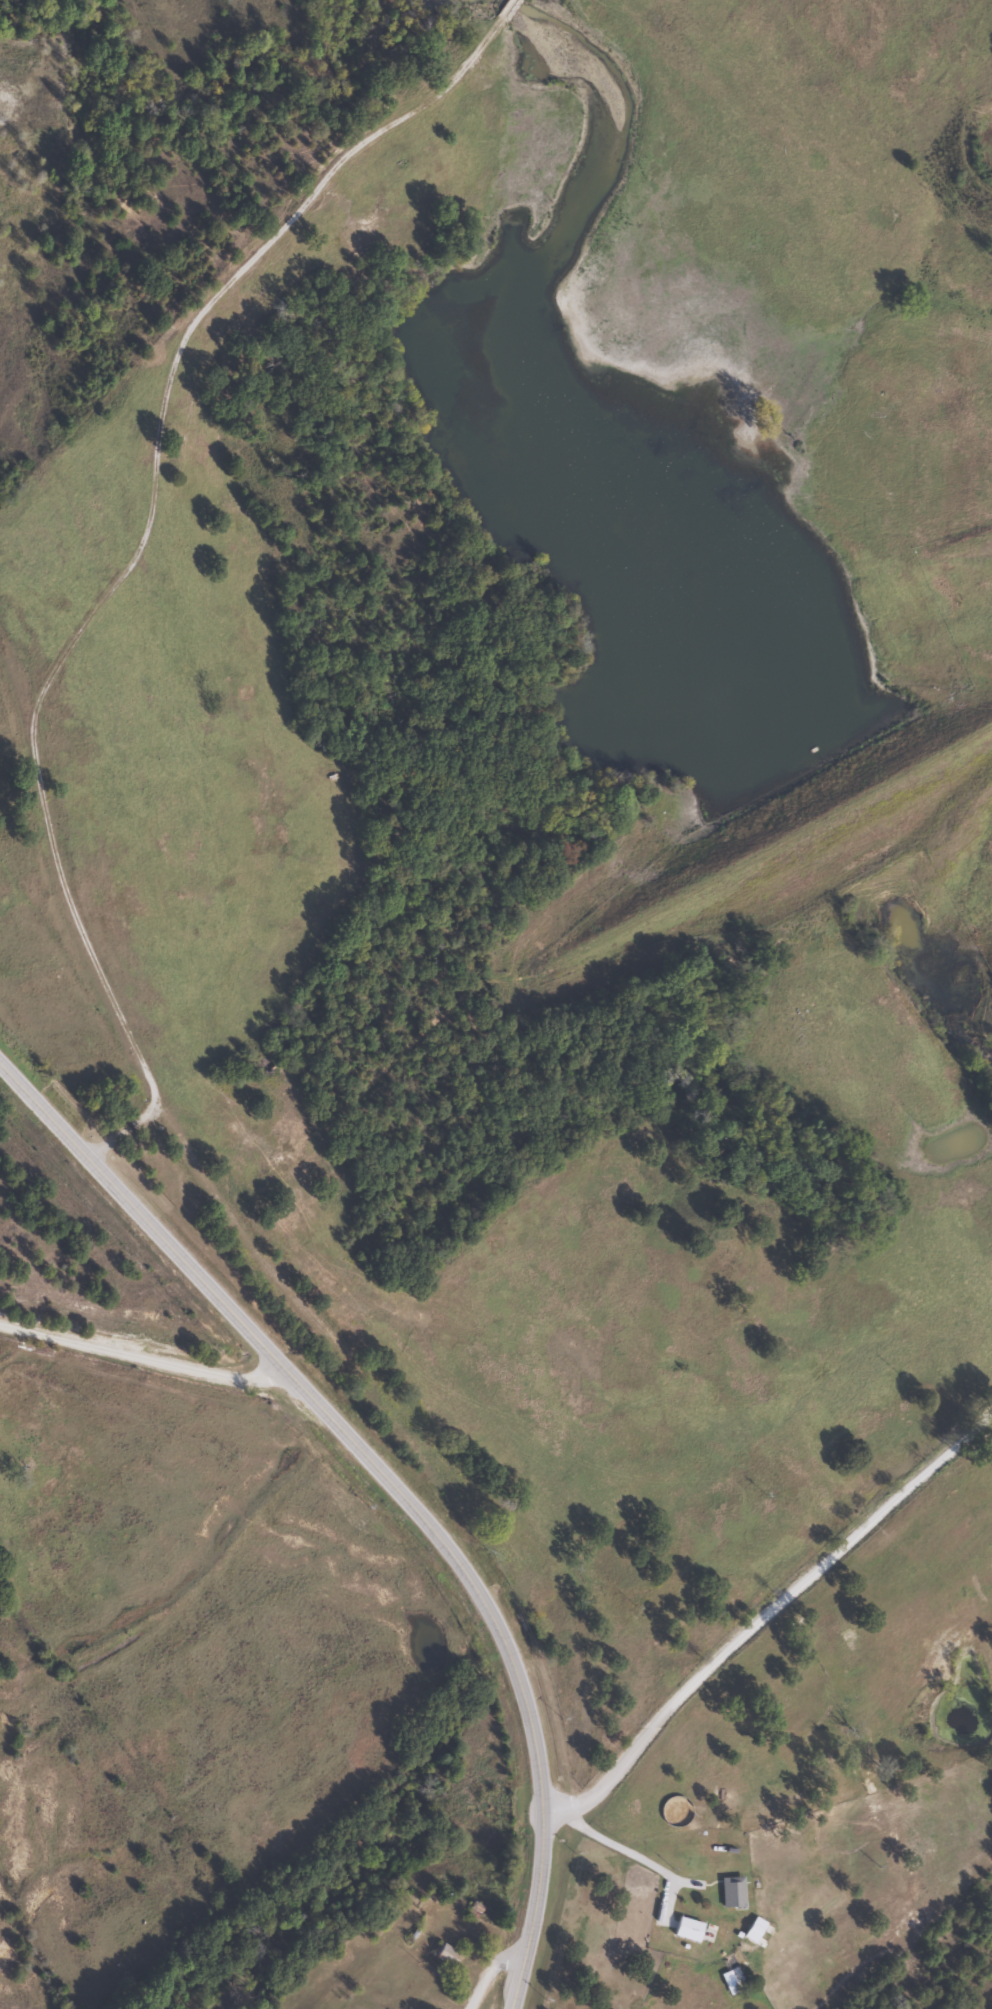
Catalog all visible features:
road: (145, 1347)
road: (390, 1483)
road: (773, 1622)
building: (731, 1893)
building: (693, 1931)
building: (444, 1955)
road: (501, 1964)

